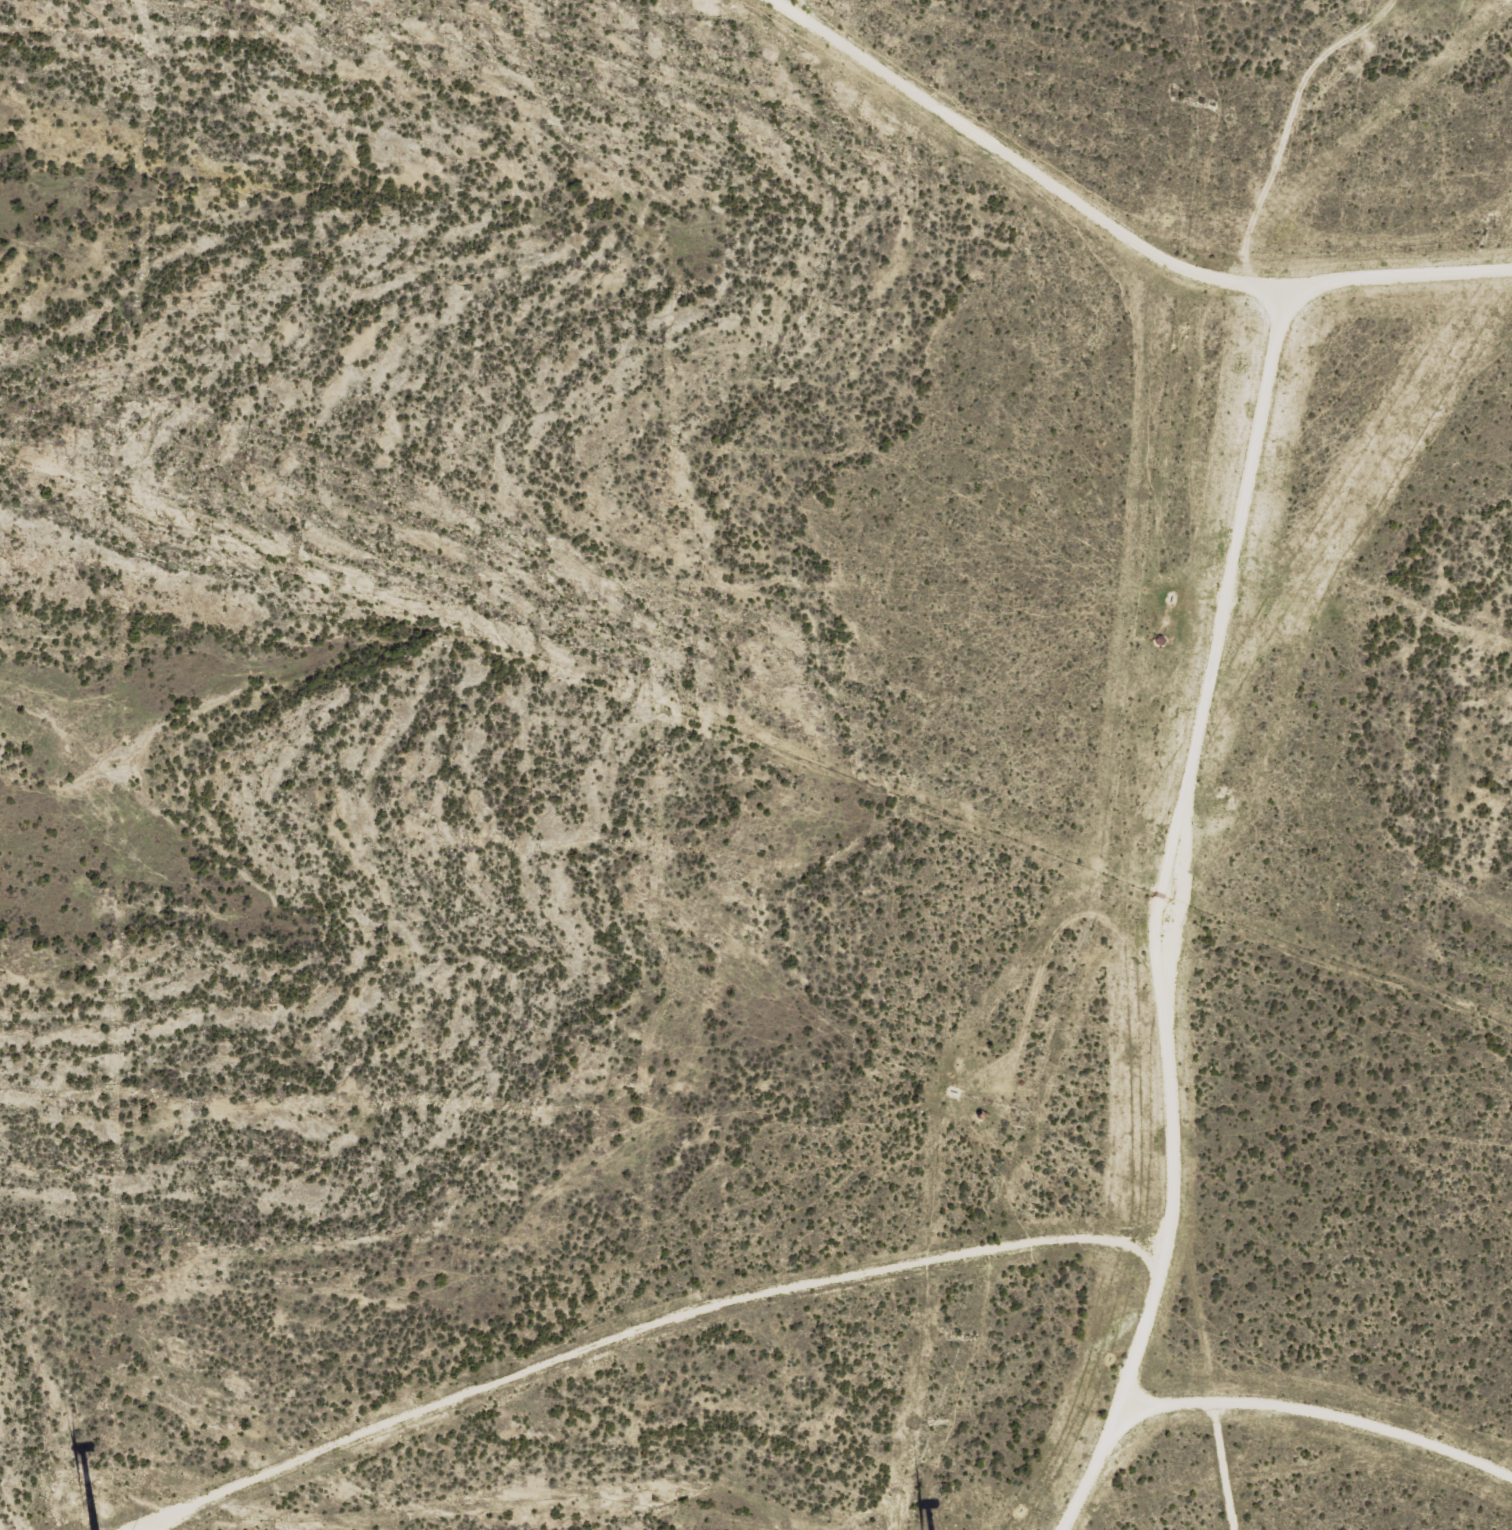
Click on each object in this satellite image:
road: (1165, 740)

